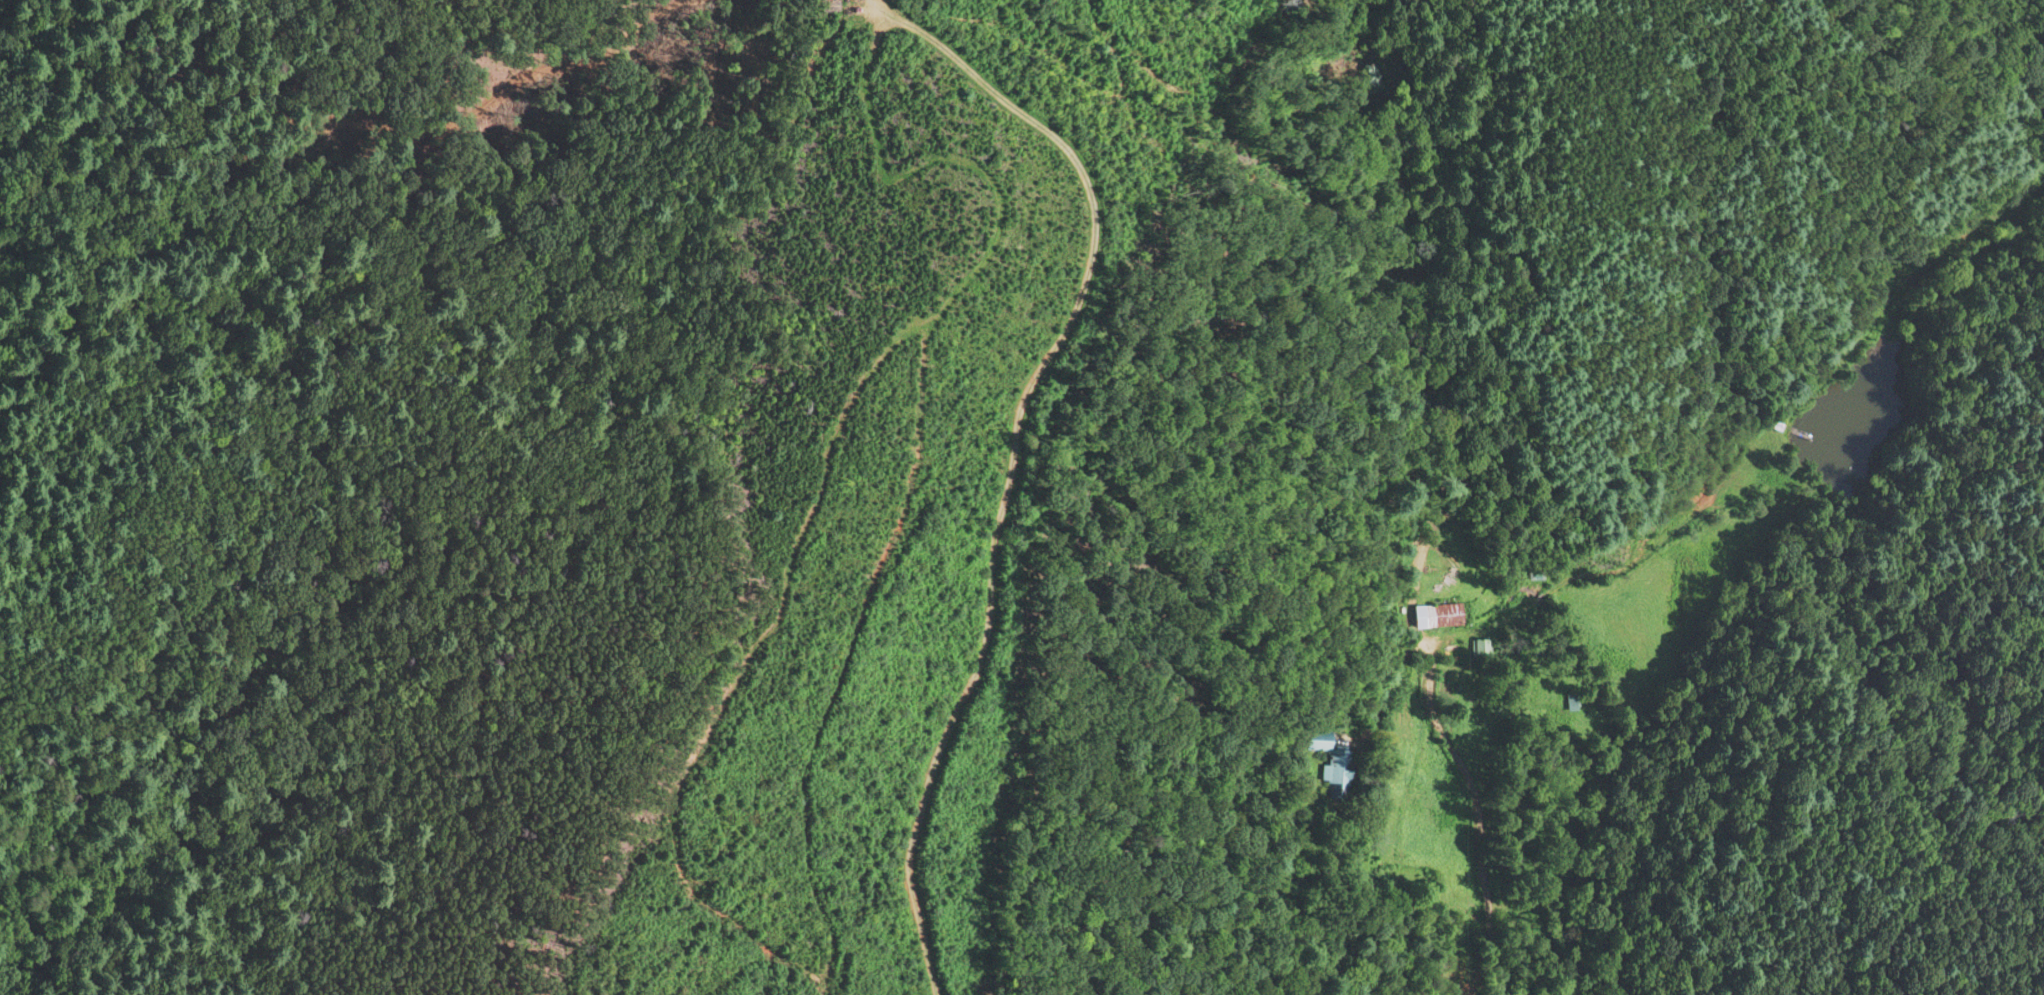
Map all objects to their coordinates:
building: (1436, 617)
building: (1318, 742)
building: (1334, 773)

